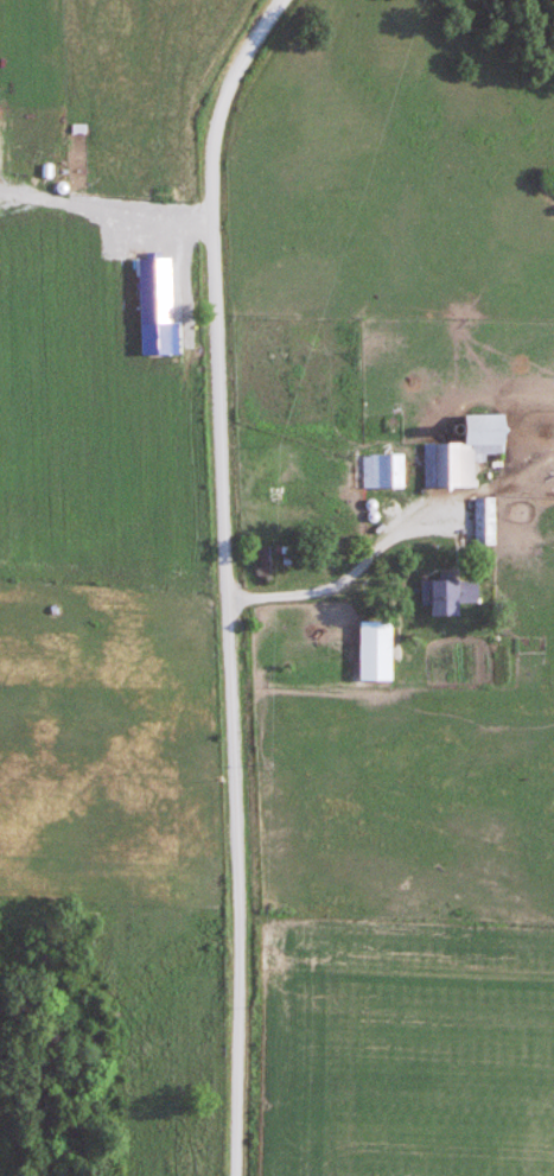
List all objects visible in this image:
road: (114, 216)
building: (464, 452)
building: (383, 471)
building: (485, 521)
building: (265, 561)
road: (227, 578)
road: (300, 595)
building: (448, 595)
building: (530, 644)
building: (375, 649)

